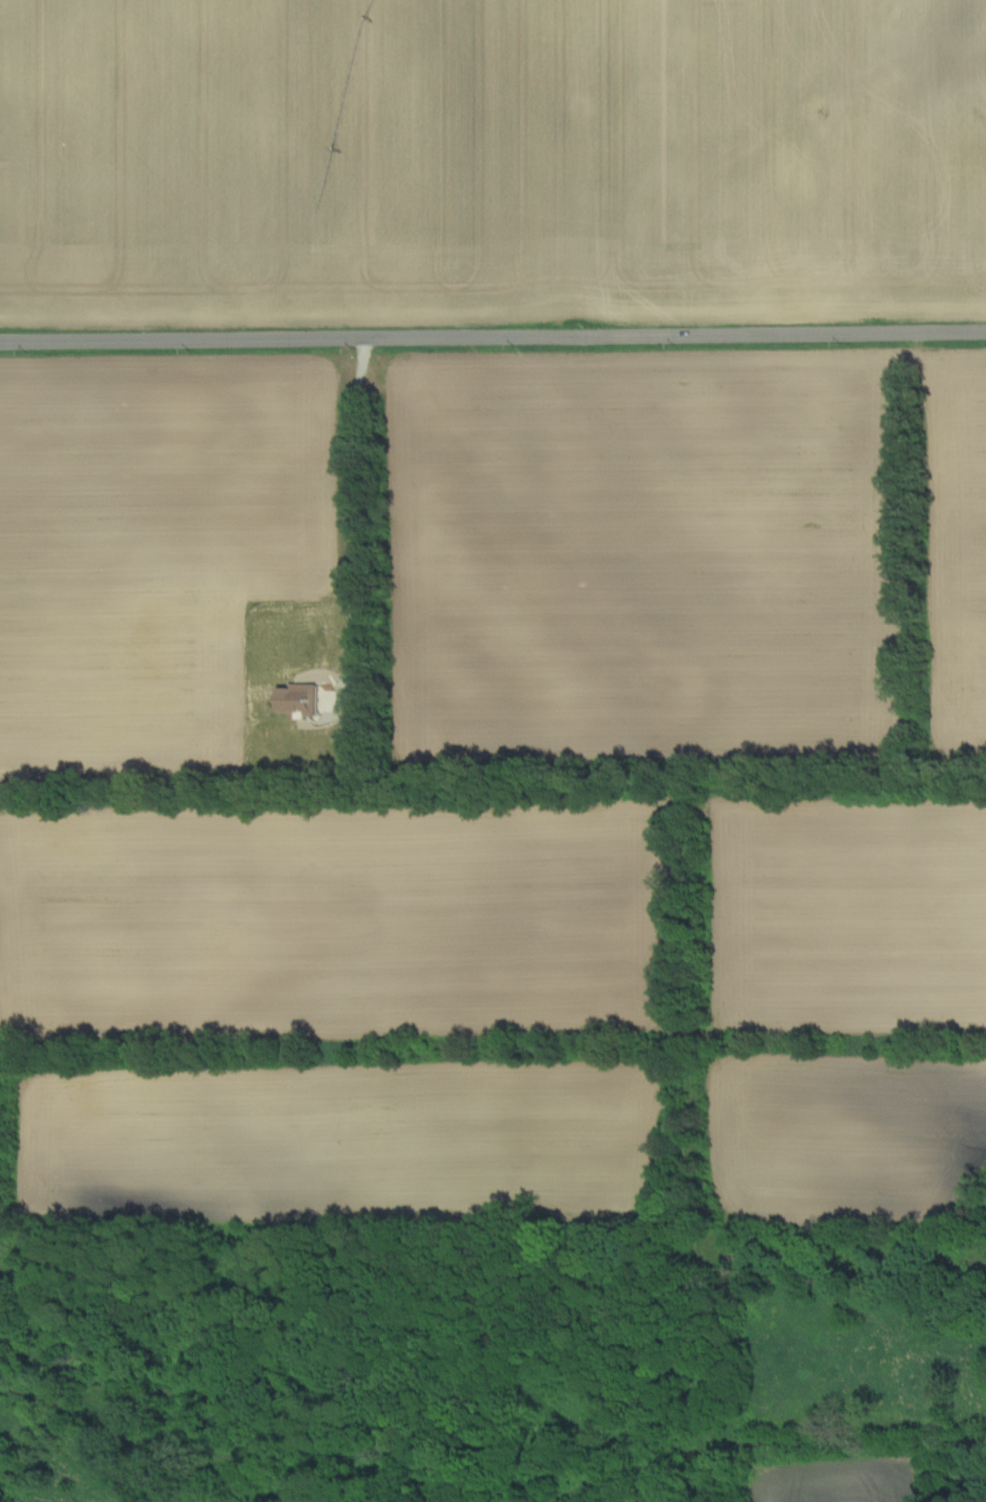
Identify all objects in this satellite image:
road: (492, 337)
road: (353, 515)

